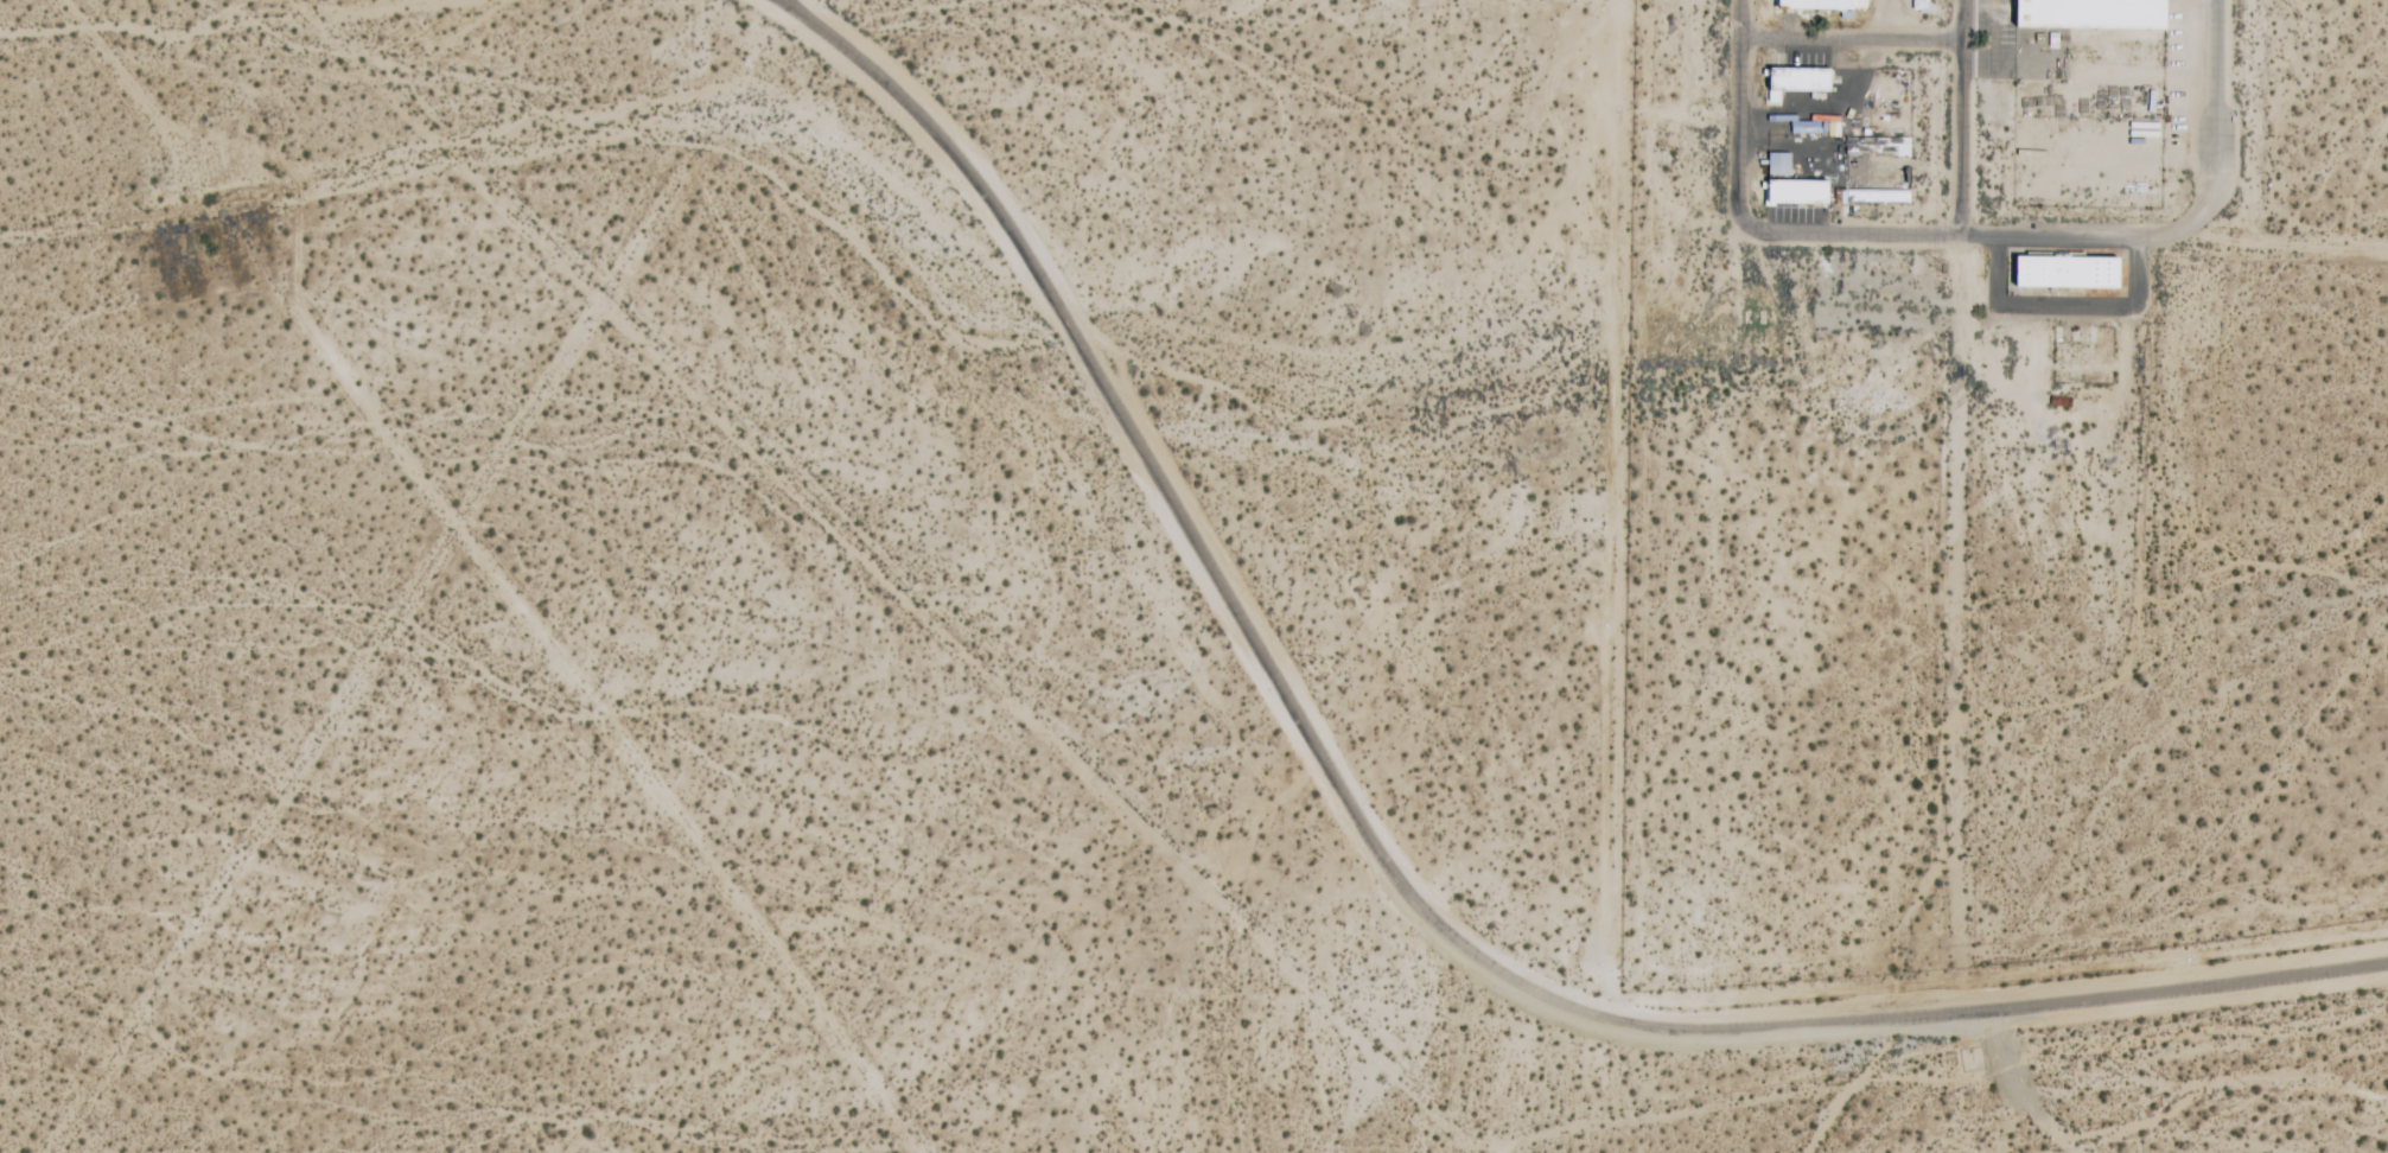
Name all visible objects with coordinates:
building: (1820, 5)
building: (1918, 5)
building: (2088, 14)
building: (1797, 79)
road: (1738, 114)
building: (1876, 146)
building: (1777, 164)
building: (1795, 191)
building: (1873, 197)
building: (2064, 272)
road: (1386, 867)

